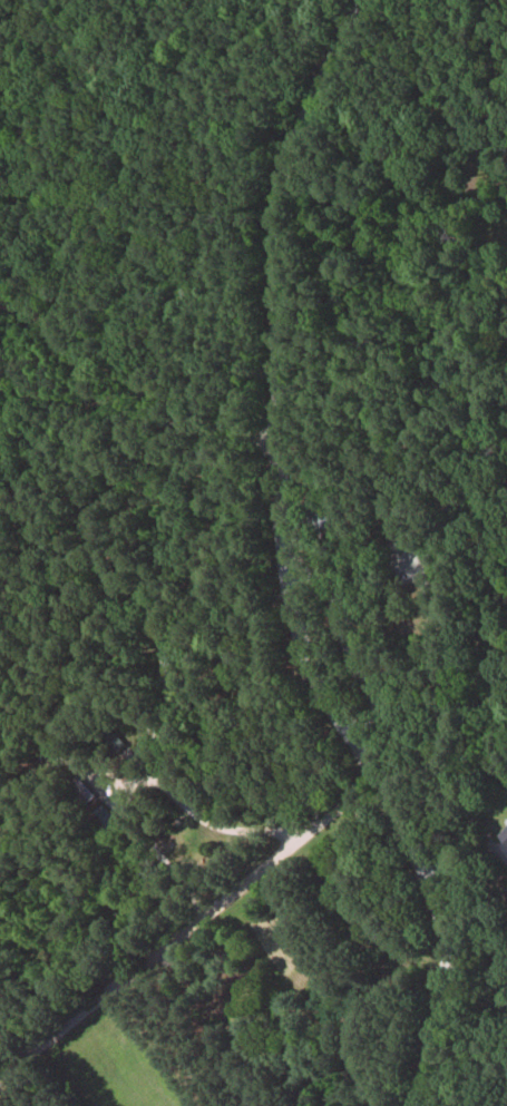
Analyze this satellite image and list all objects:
road: (120, 408)
road: (285, 566)
road: (192, 810)
building: (503, 835)
road: (504, 852)
road: (188, 929)

